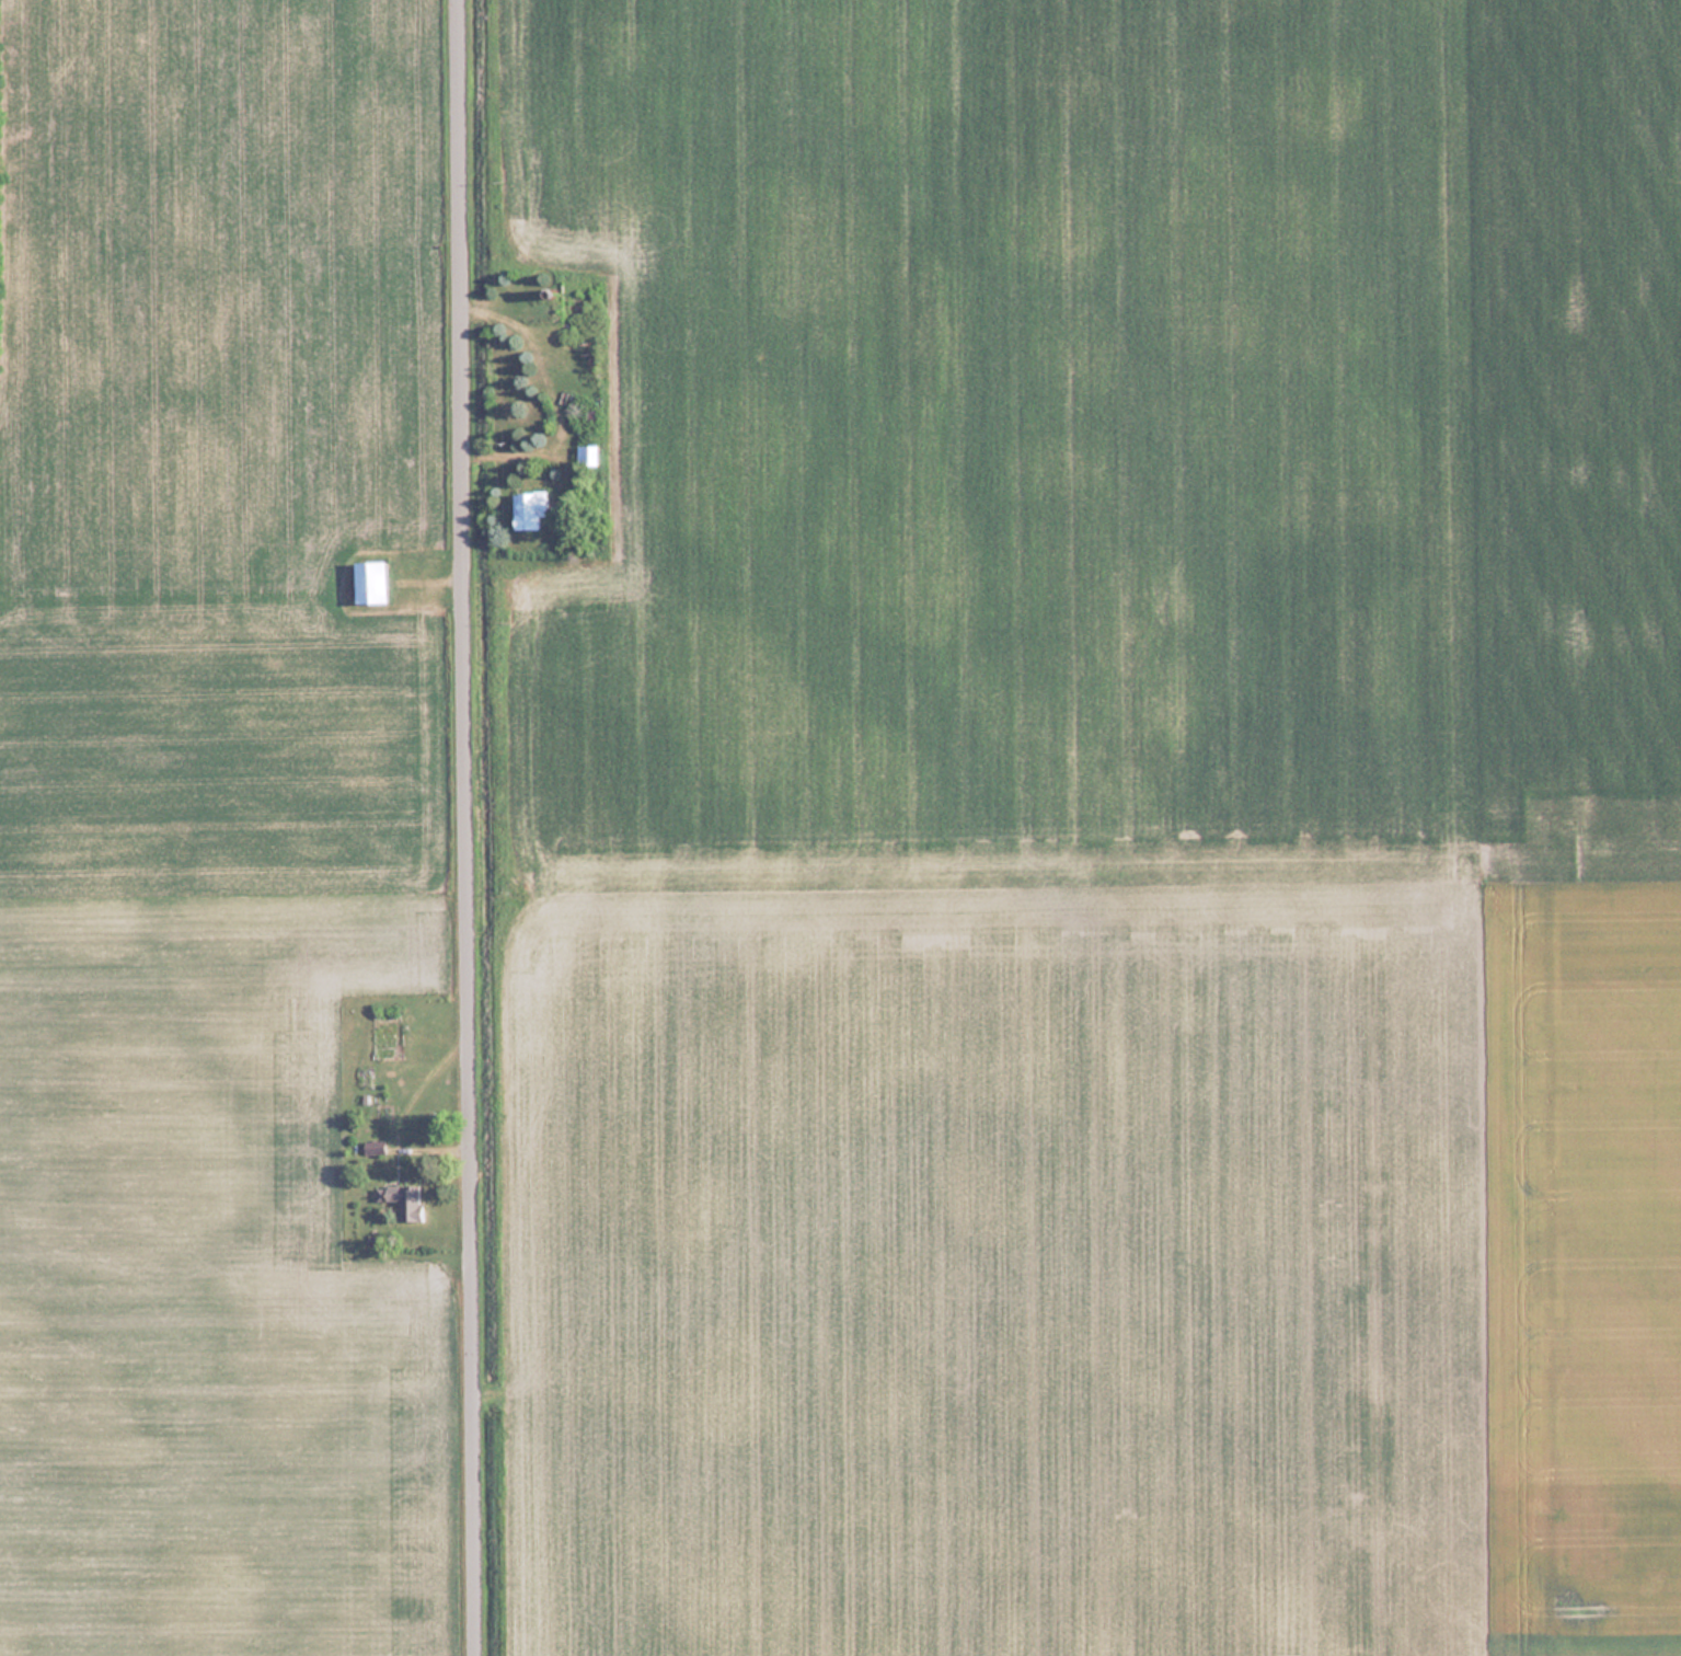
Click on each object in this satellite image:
building: (587, 453)
building: (529, 508)
building: (369, 579)
road: (472, 828)
building: (373, 1147)
building: (404, 1199)

